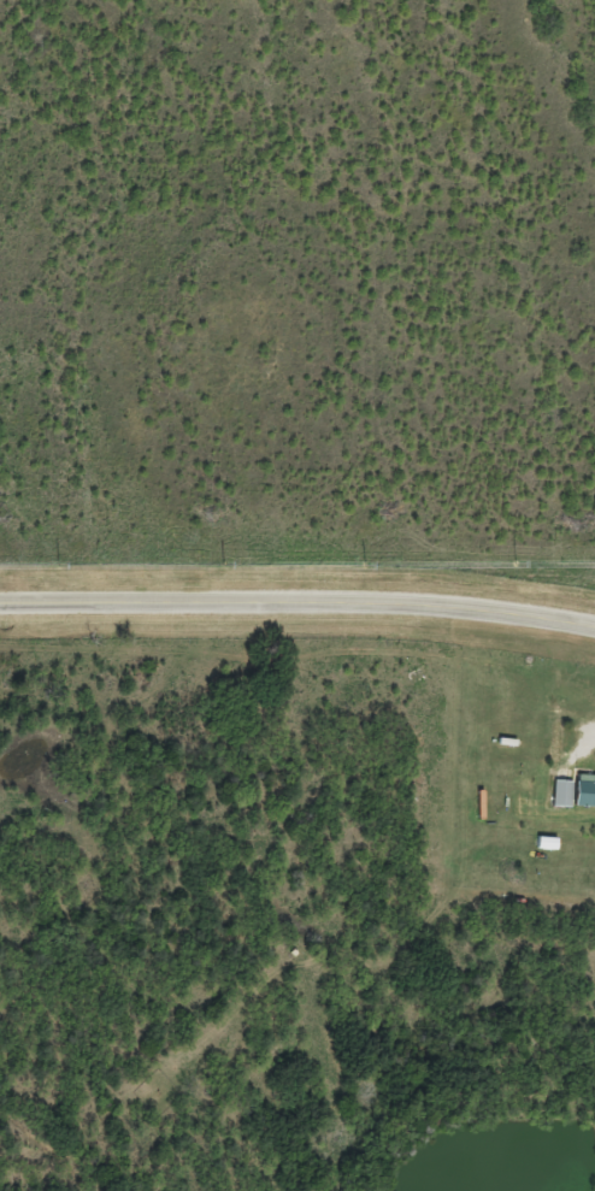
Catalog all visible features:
road: (297, 602)
building: (562, 802)

